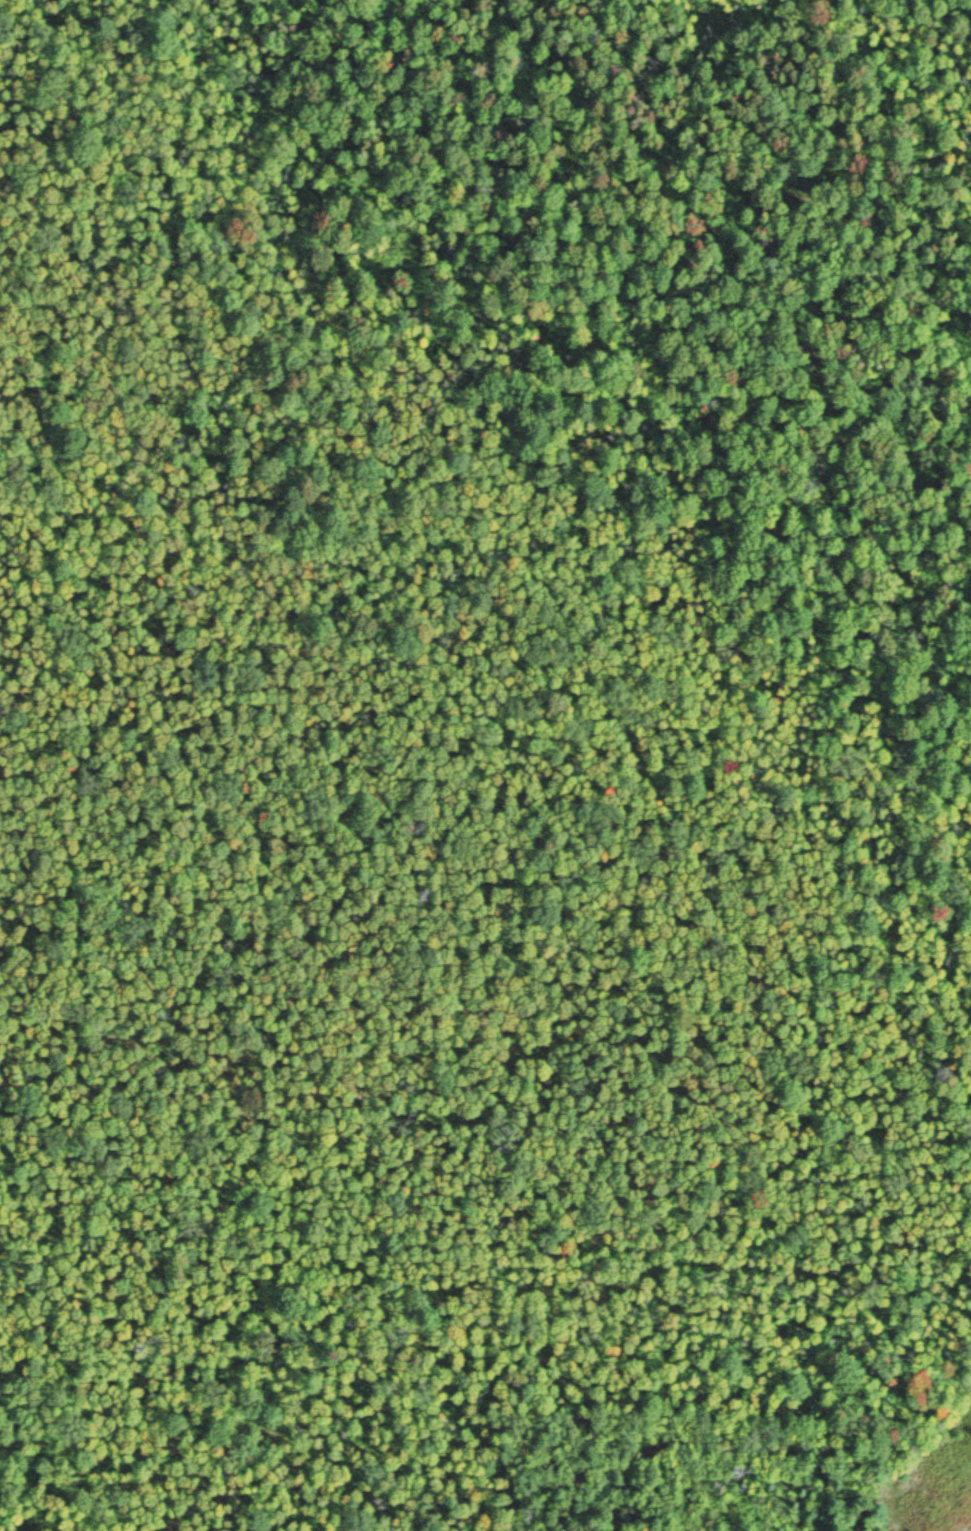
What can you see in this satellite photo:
road: (484, 734)

